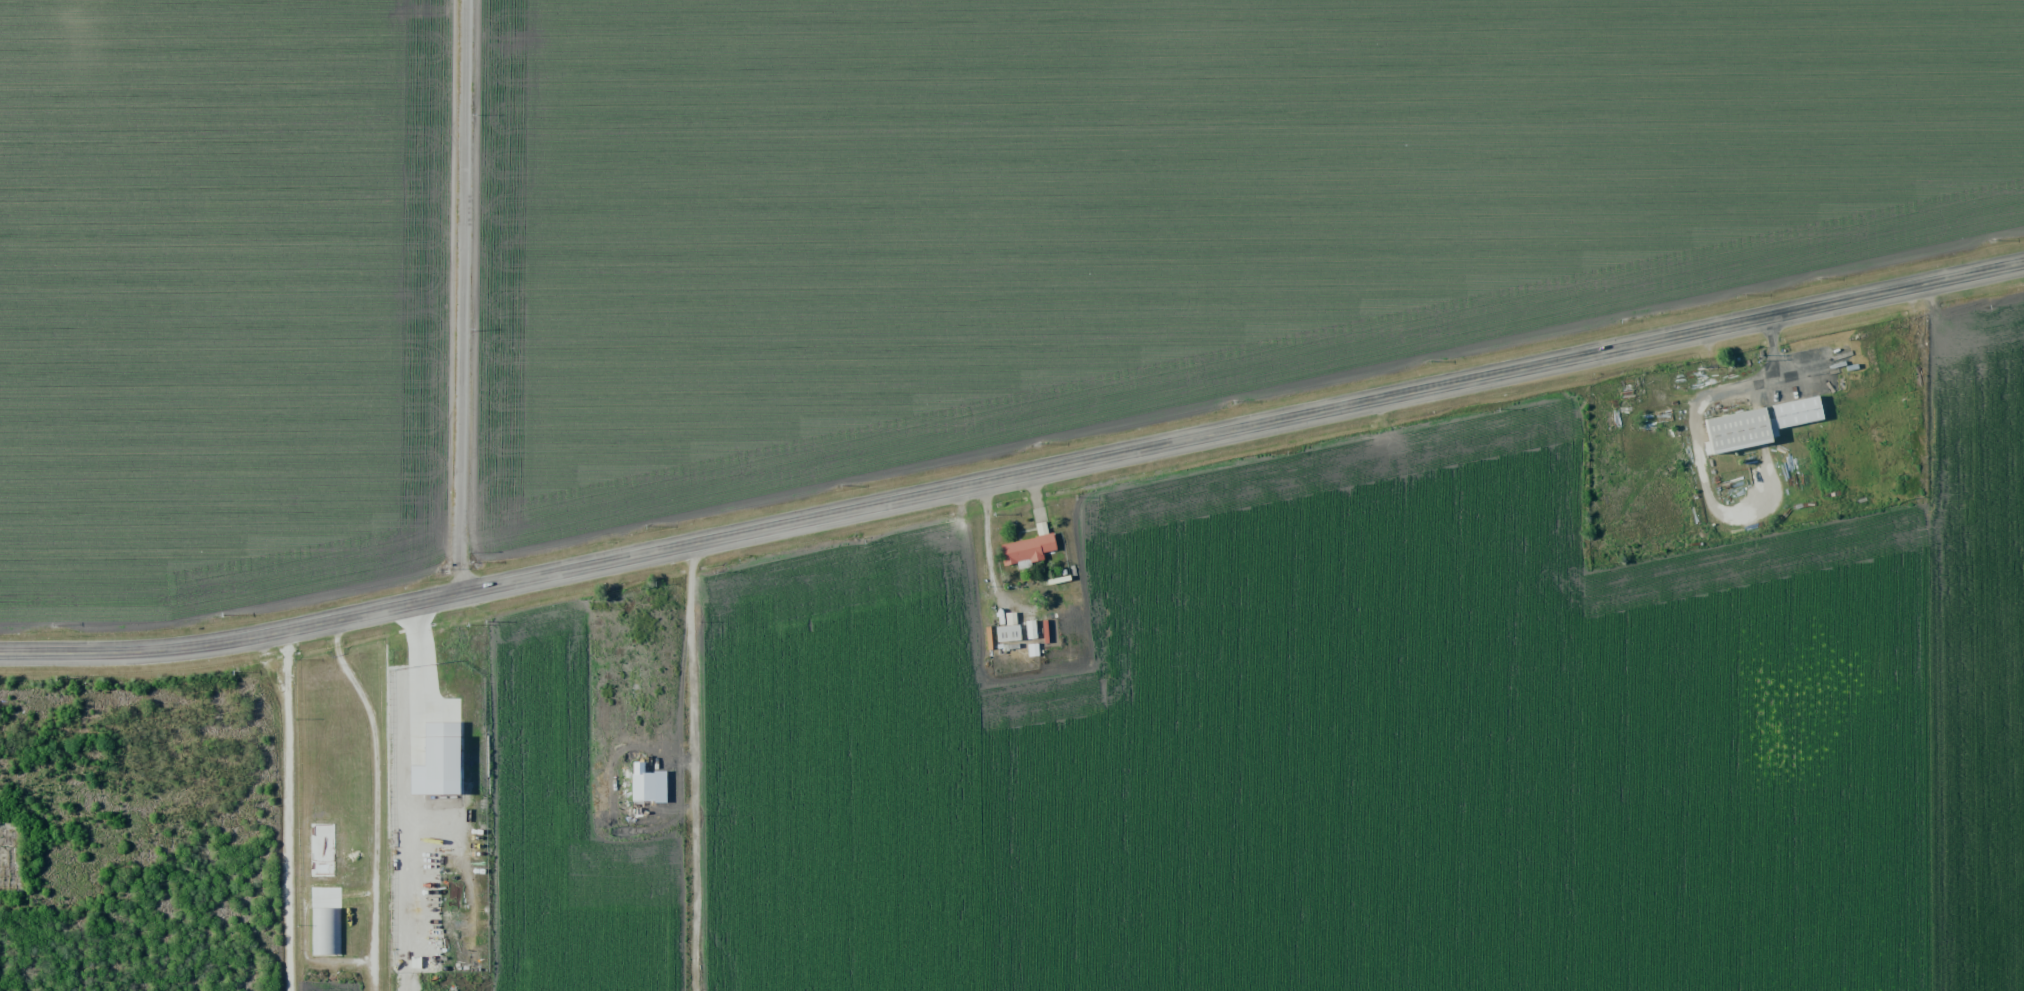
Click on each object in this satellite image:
road: (466, 297)
building: (1757, 424)
road: (1014, 478)
building: (1026, 549)
building: (1030, 629)
building: (1007, 632)
building: (1033, 649)
road: (412, 714)
road: (288, 810)
building: (326, 930)

